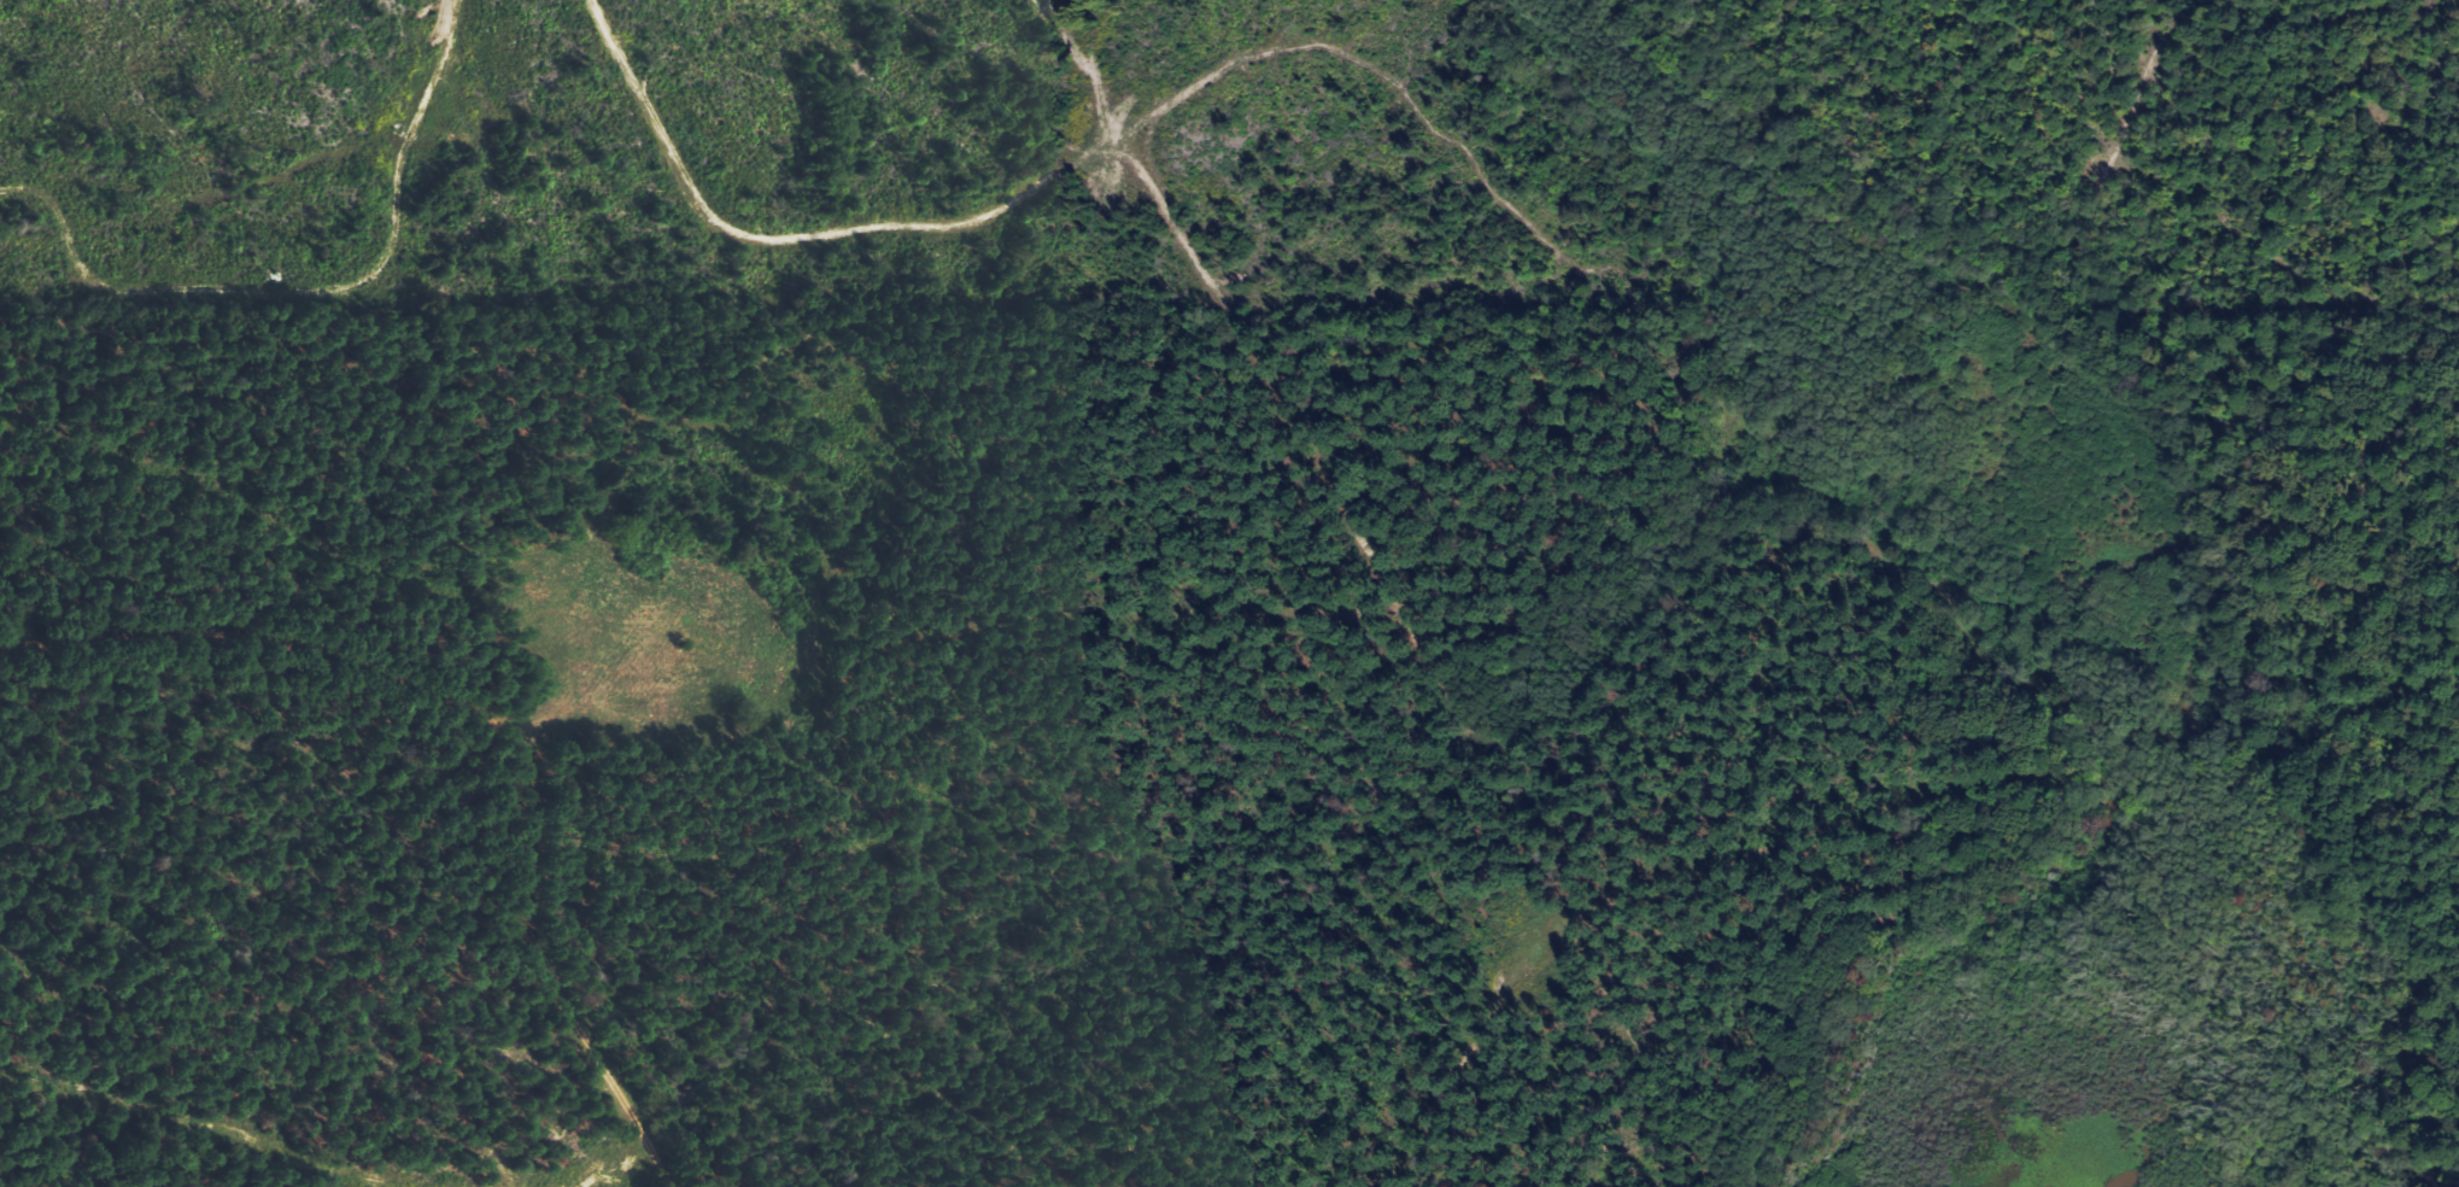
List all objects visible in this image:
river: (2074, 502)
road: (508, 719)
road: (1651, 881)

